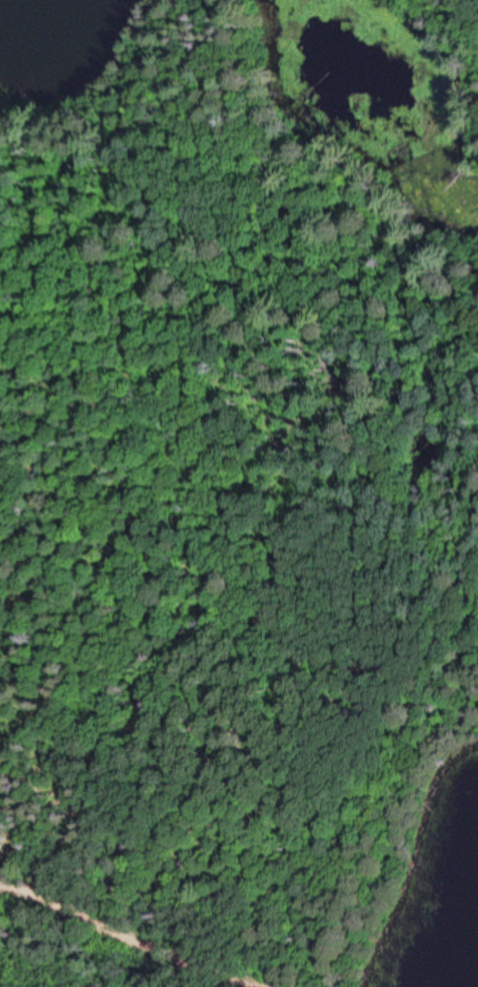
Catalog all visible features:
road: (133, 929)

